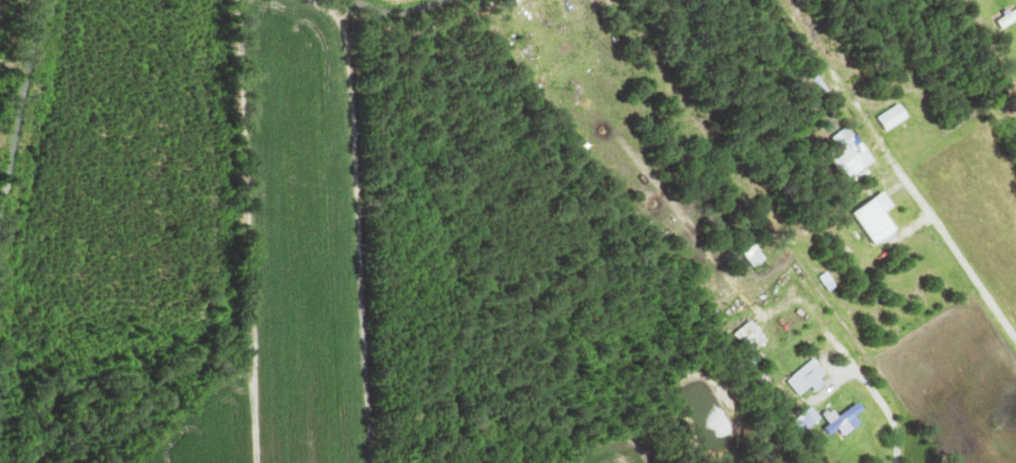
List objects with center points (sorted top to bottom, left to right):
building: (1005, 18)
building: (867, 218)
building: (751, 260)
building: (743, 337)
building: (801, 379)
building: (802, 420)
building: (838, 420)

